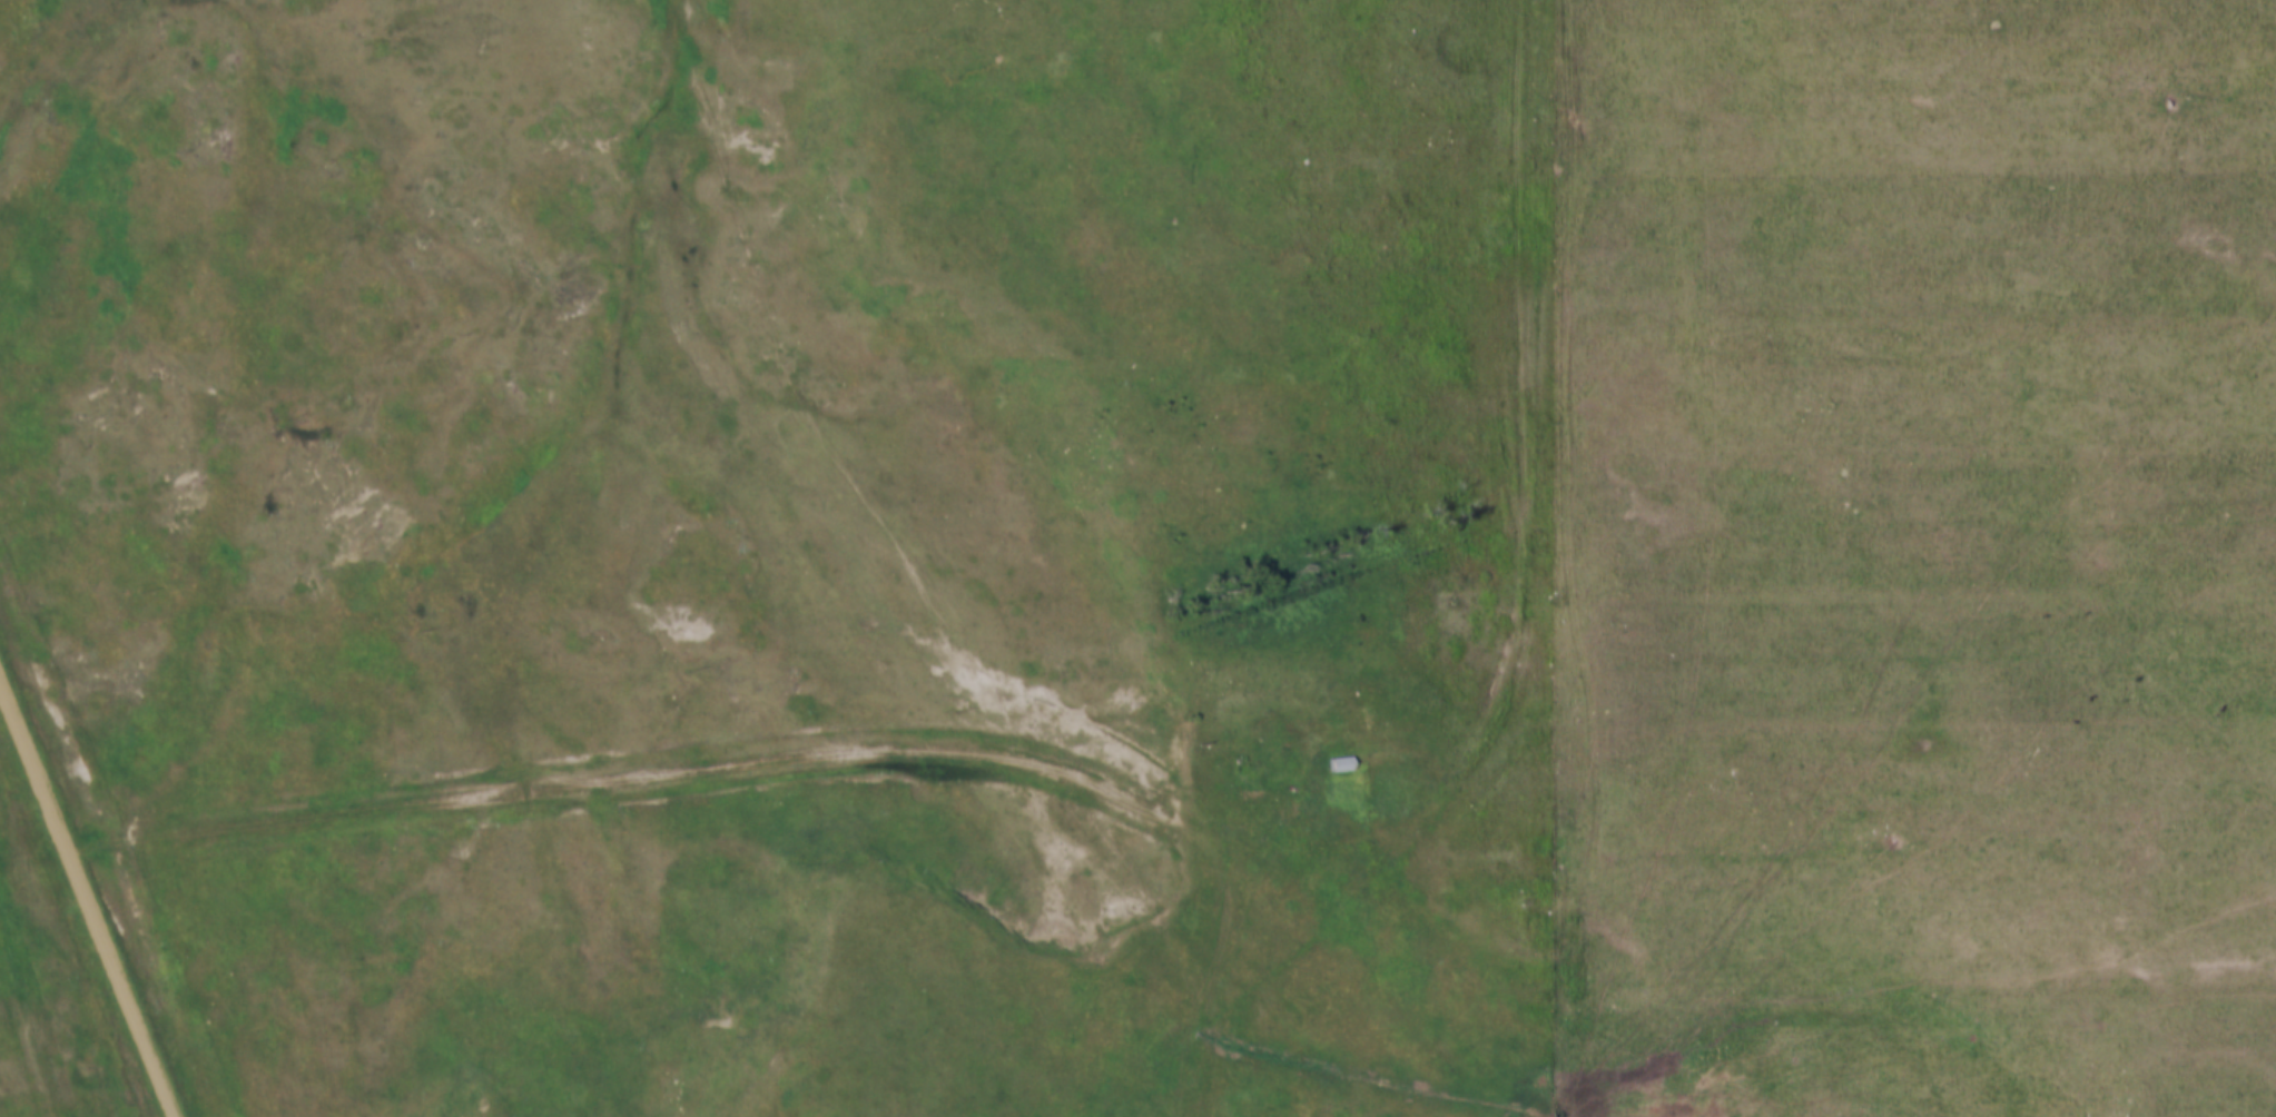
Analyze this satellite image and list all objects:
building: (1333, 764)
building: (1344, 769)
road: (1382, 876)
road: (89, 896)

